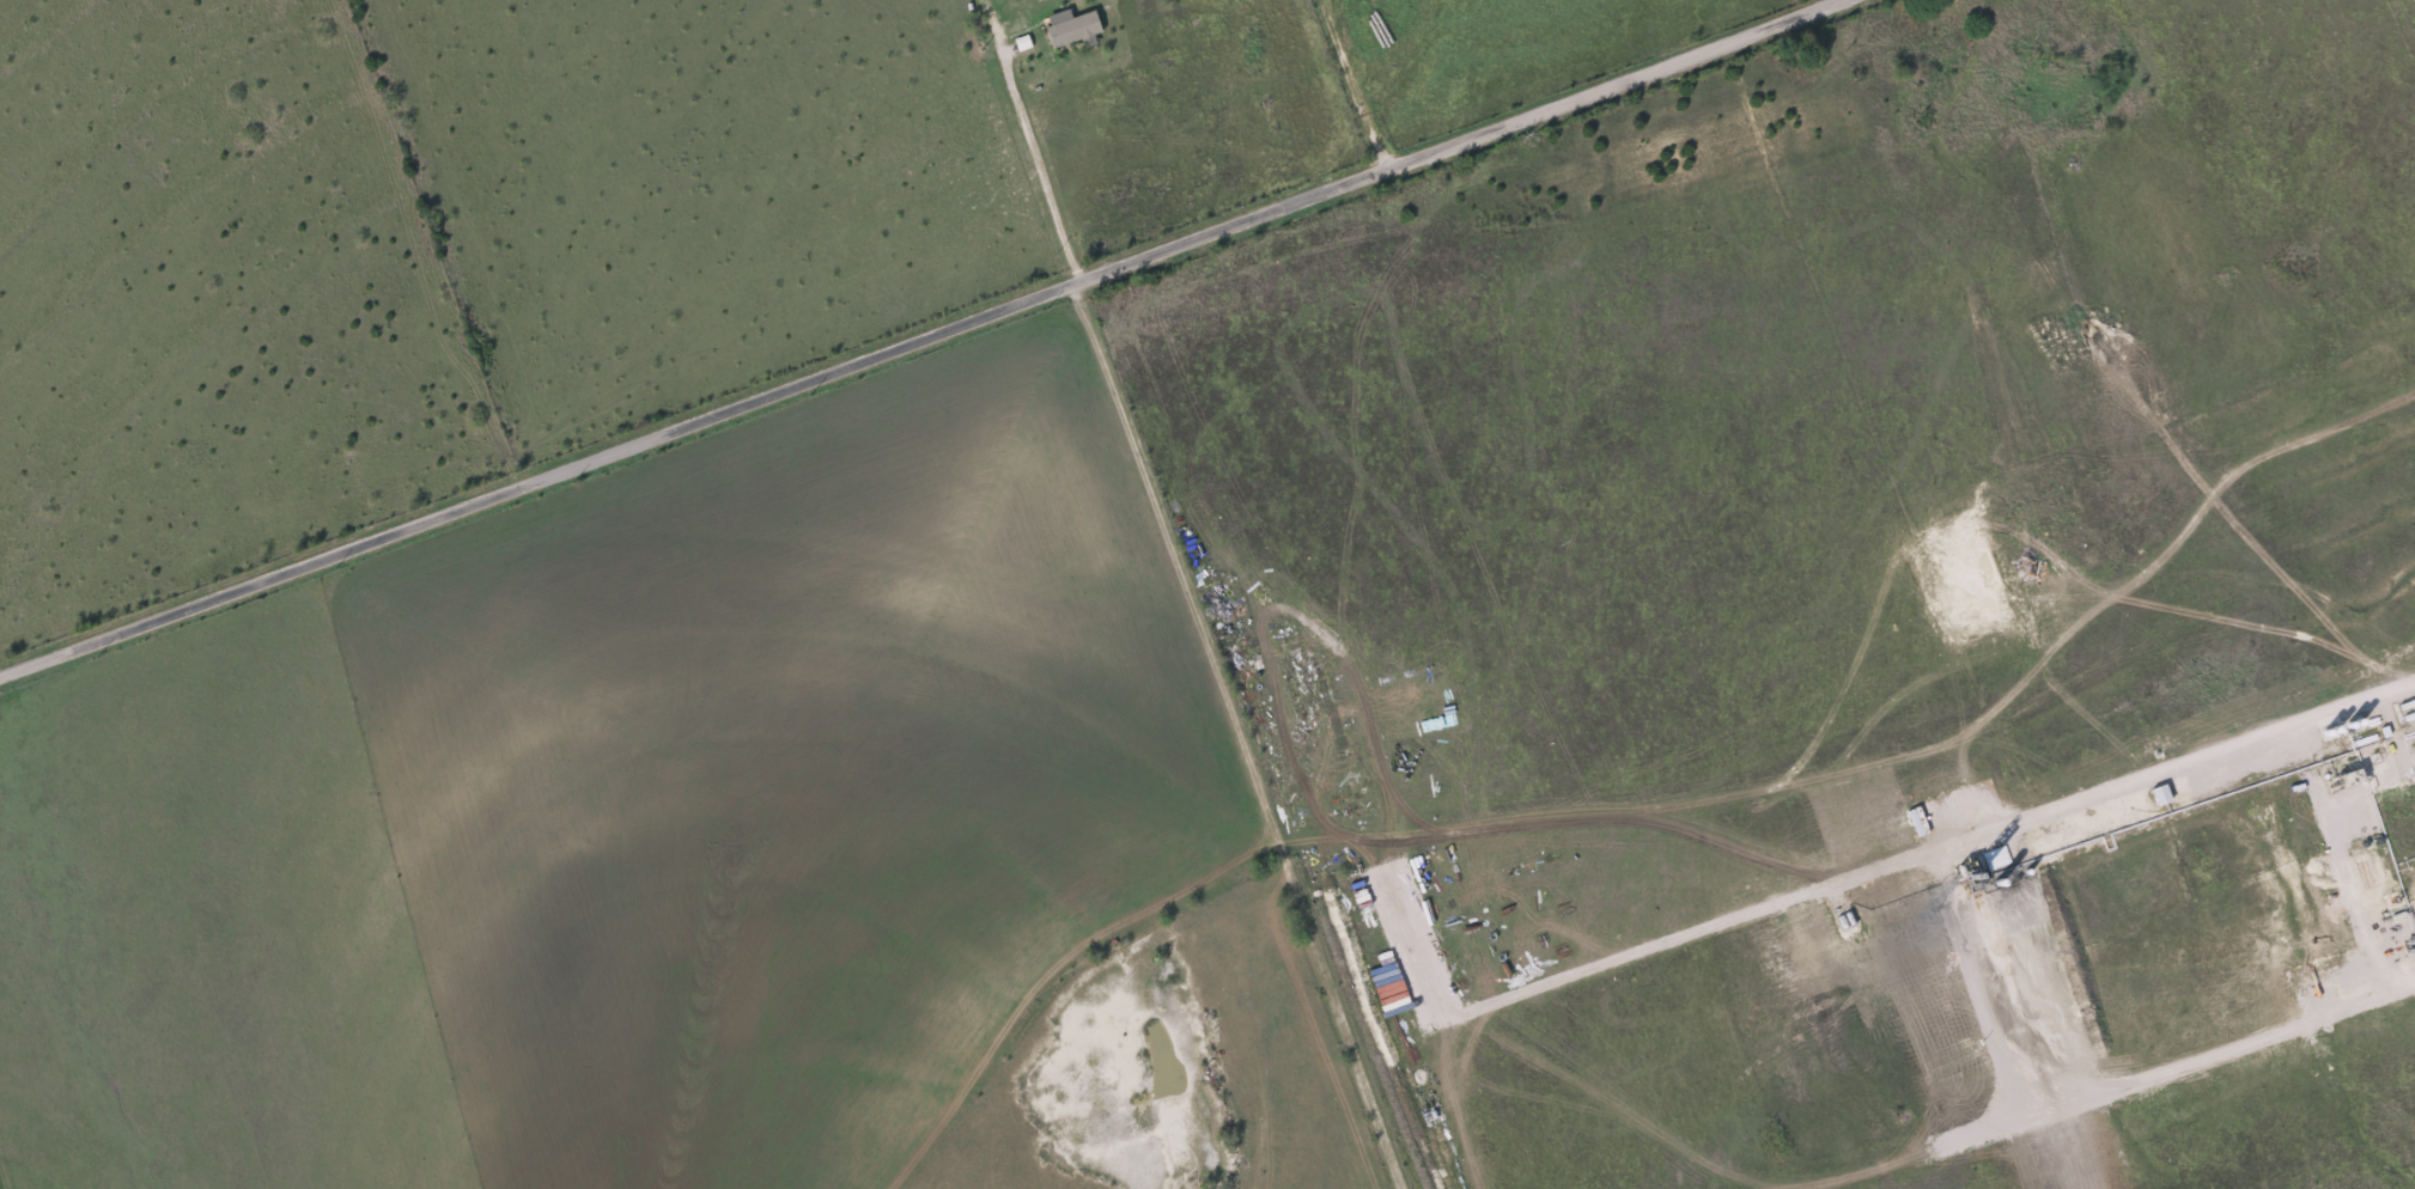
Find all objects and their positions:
road: (1351, 84)
road: (1030, 156)
road: (919, 337)
road: (1240, 733)
building: (2157, 794)

